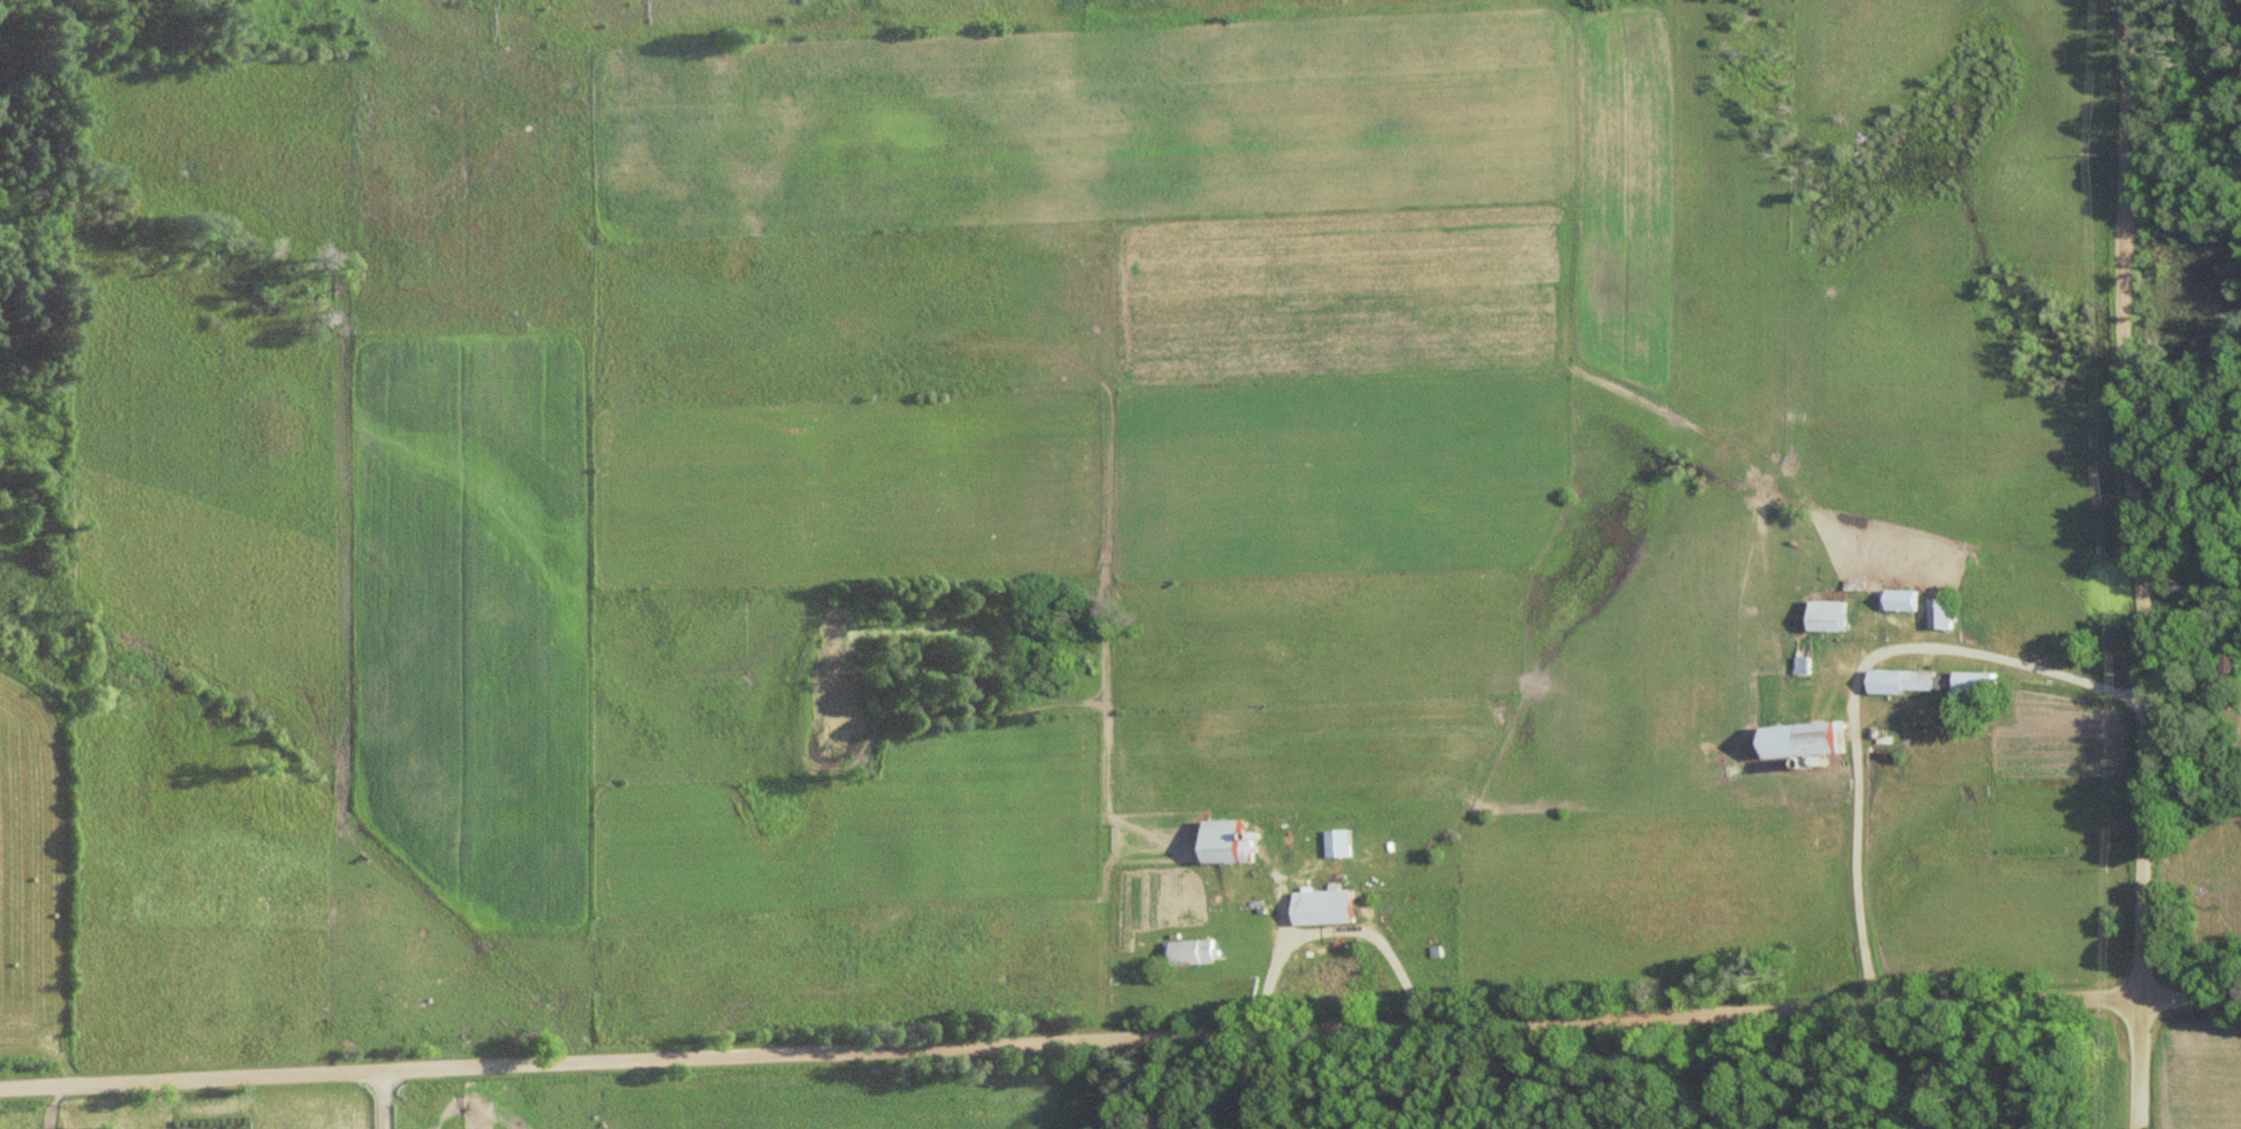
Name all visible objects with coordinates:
road: (2133, 564)
building: (1944, 613)
building: (1837, 617)
building: (1808, 665)
building: (1908, 682)
building: (1830, 740)
building: (1237, 842)
building: (1331, 908)
building: (1197, 952)
road: (1120, 1042)

